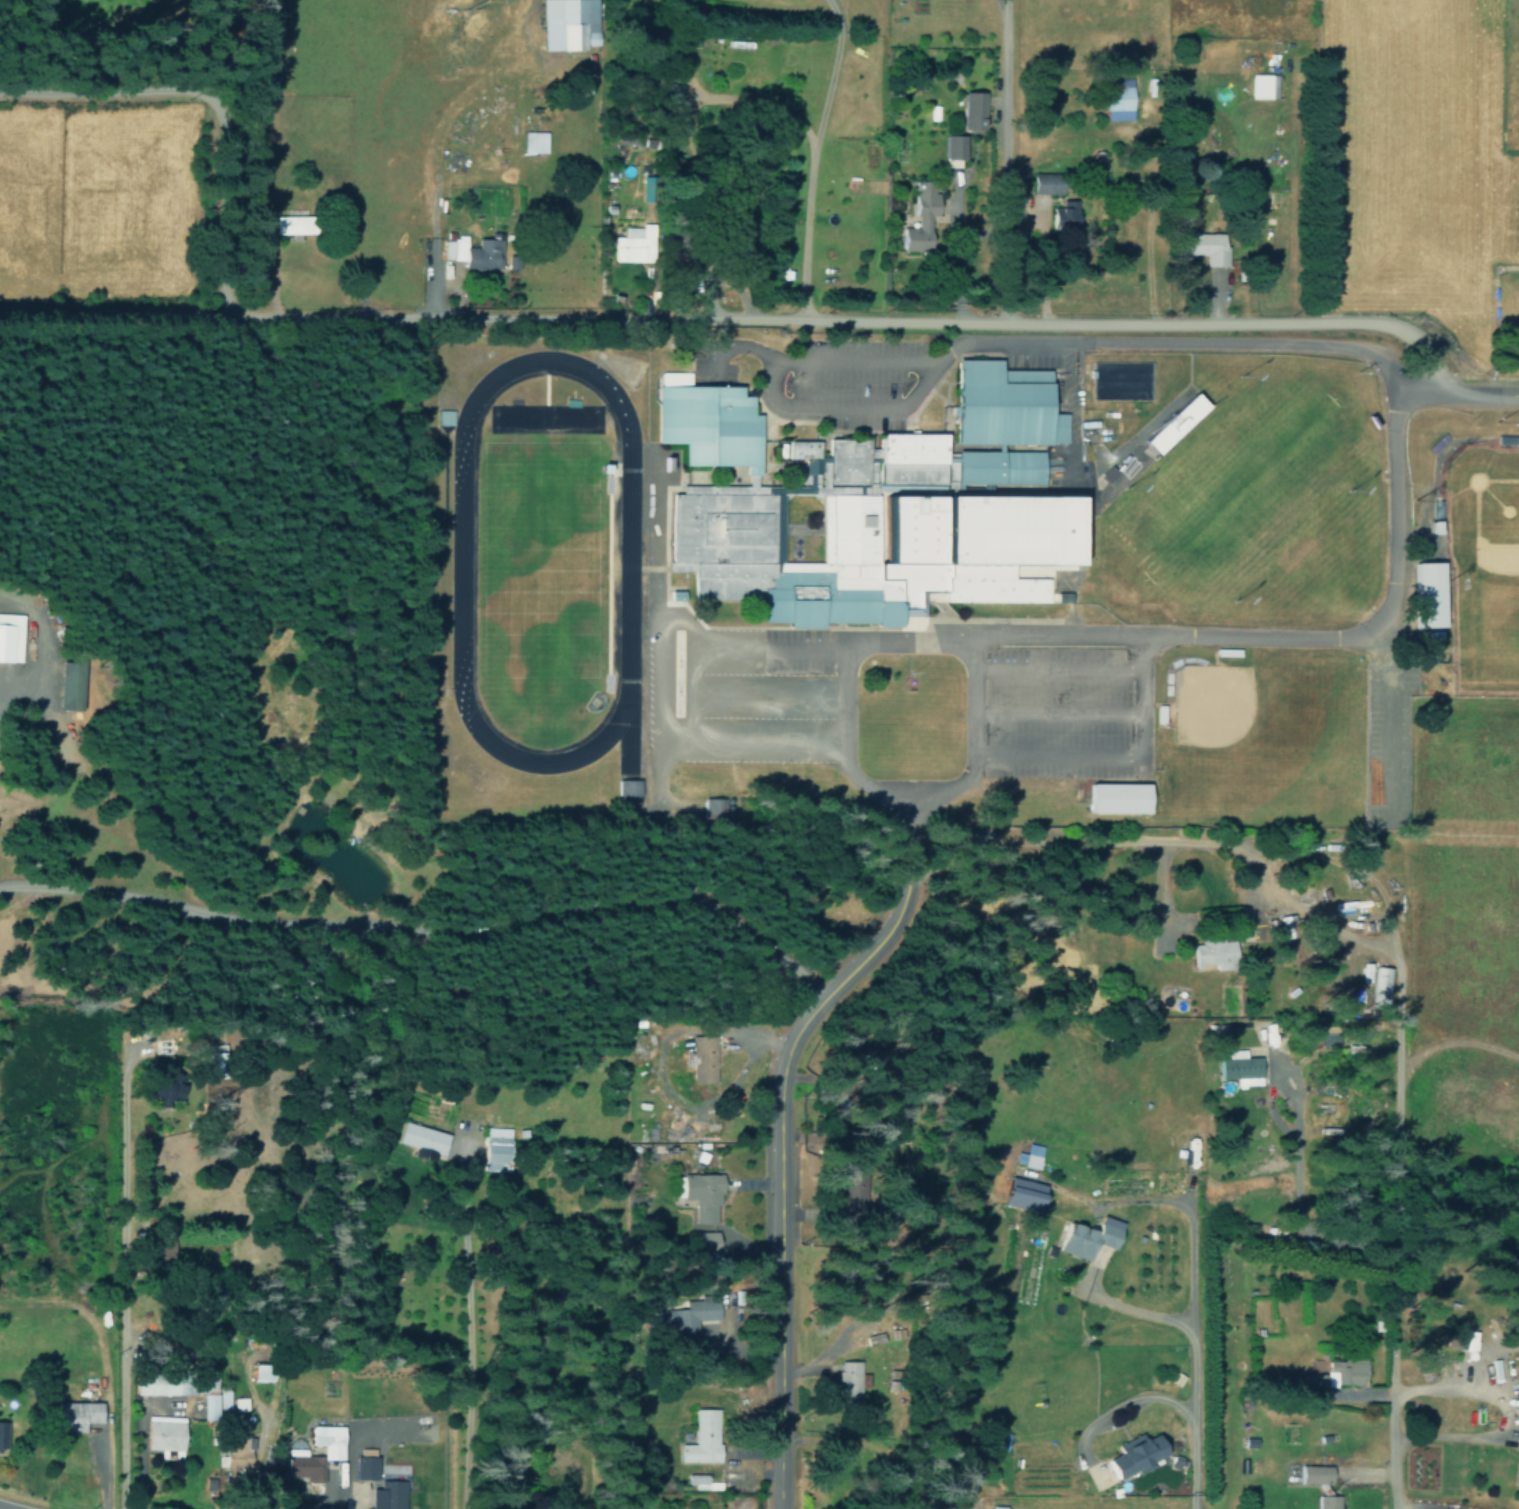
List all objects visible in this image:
building: (565, 23)
building: (1267, 86)
road: (102, 93)
building: (673, 99)
building: (1120, 105)
building: (972, 110)
building: (534, 141)
building: (953, 146)
road: (207, 160)
road: (813, 161)
road: (997, 162)
building: (1046, 182)
building: (920, 217)
building: (1063, 217)
building: (267, 224)
building: (290, 224)
building: (635, 244)
building: (1201, 245)
building: (472, 252)
building: (511, 262)
road: (739, 322)
road: (1021, 344)
road: (969, 351)
parking lot: (708, 360)
road: (852, 364)
parking lot: (925, 386)
road: (1455, 395)
building: (1001, 404)
road: (1393, 410)
road: (944, 411)
building: (445, 417)
building: (705, 420)
road: (817, 420)
building: (1173, 423)
road: (778, 435)
road: (807, 437)
building: (1506, 439)
road: (764, 449)
building: (1126, 453)
road: (1383, 453)
building: (800, 457)
building: (908, 457)
building: (847, 460)
building: (998, 463)
road: (1443, 464)
road: (1399, 466)
building: (1106, 472)
road: (781, 475)
building: (749, 478)
stadium: (654, 480)
building: (842, 487)
building: (1019, 487)
road: (1392, 489)
road: (1080, 490)
park: (1244, 498)
building: (1432, 515)
road: (1091, 517)
building: (1008, 527)
road: (1439, 528)
road: (786, 529)
road: (791, 531)
road: (920, 544)
road: (913, 548)
park: (1493, 554)
track: (619, 560)
building: (819, 561)
park: (1481, 572)
road: (1401, 577)
road: (937, 591)
building: (674, 593)
building: (1425, 593)
road: (936, 603)
road: (1068, 622)
road: (825, 627)
road: (1189, 634)
building: (9, 636)
road: (1333, 636)
road: (1196, 638)
road: (1245, 643)
road: (51, 650)
road: (688, 653)
road: (1055, 668)
building: (67, 683)
road: (844, 683)
parking lot: (736, 691)
road: (1443, 694)
road: (688, 697)
road: (754, 697)
road: (766, 701)
parking lot: (1066, 701)
road: (1155, 702)
park: (1209, 704)
road: (1056, 712)
road: (1152, 719)
road: (653, 731)
road: (970, 735)
road: (749, 742)
road: (1115, 757)
building: (624, 791)
building: (1114, 798)
building: (710, 806)
road: (1294, 825)
road: (1167, 842)
road: (1186, 921)
road: (431, 928)
building: (1157, 944)
building: (1211, 954)
building: (1380, 984)
building: (1327, 1039)
road: (1455, 1042)
building: (703, 1058)
building: (213, 1060)
building: (1237, 1063)
building: (162, 1094)
road: (780, 1128)
building: (495, 1148)
building: (1028, 1160)
building: (702, 1194)
building: (1020, 1194)
road: (1392, 1197)
road: (1103, 1199)
building: (1084, 1241)
building: (703, 1242)
road: (124, 1256)
road: (1121, 1304)
building: (687, 1317)
road: (467, 1320)
road: (1190, 1335)
road: (1092, 1355)
road: (103, 1364)
building: (177, 1377)
building: (1333, 1377)
building: (850, 1381)
building: (223, 1403)
road: (1507, 1411)
road: (1101, 1413)
building: (83, 1414)
building: (166, 1434)
building: (3, 1435)
building: (701, 1438)
building: (314, 1444)
building: (236, 1450)
building: (1133, 1453)
building: (366, 1470)
building: (1314, 1474)
building: (1517, 1476)
building: (698, 1481)
building: (394, 1501)
building: (1327, 1502)
building: (513, 1507)
road: (1416, 1507)

